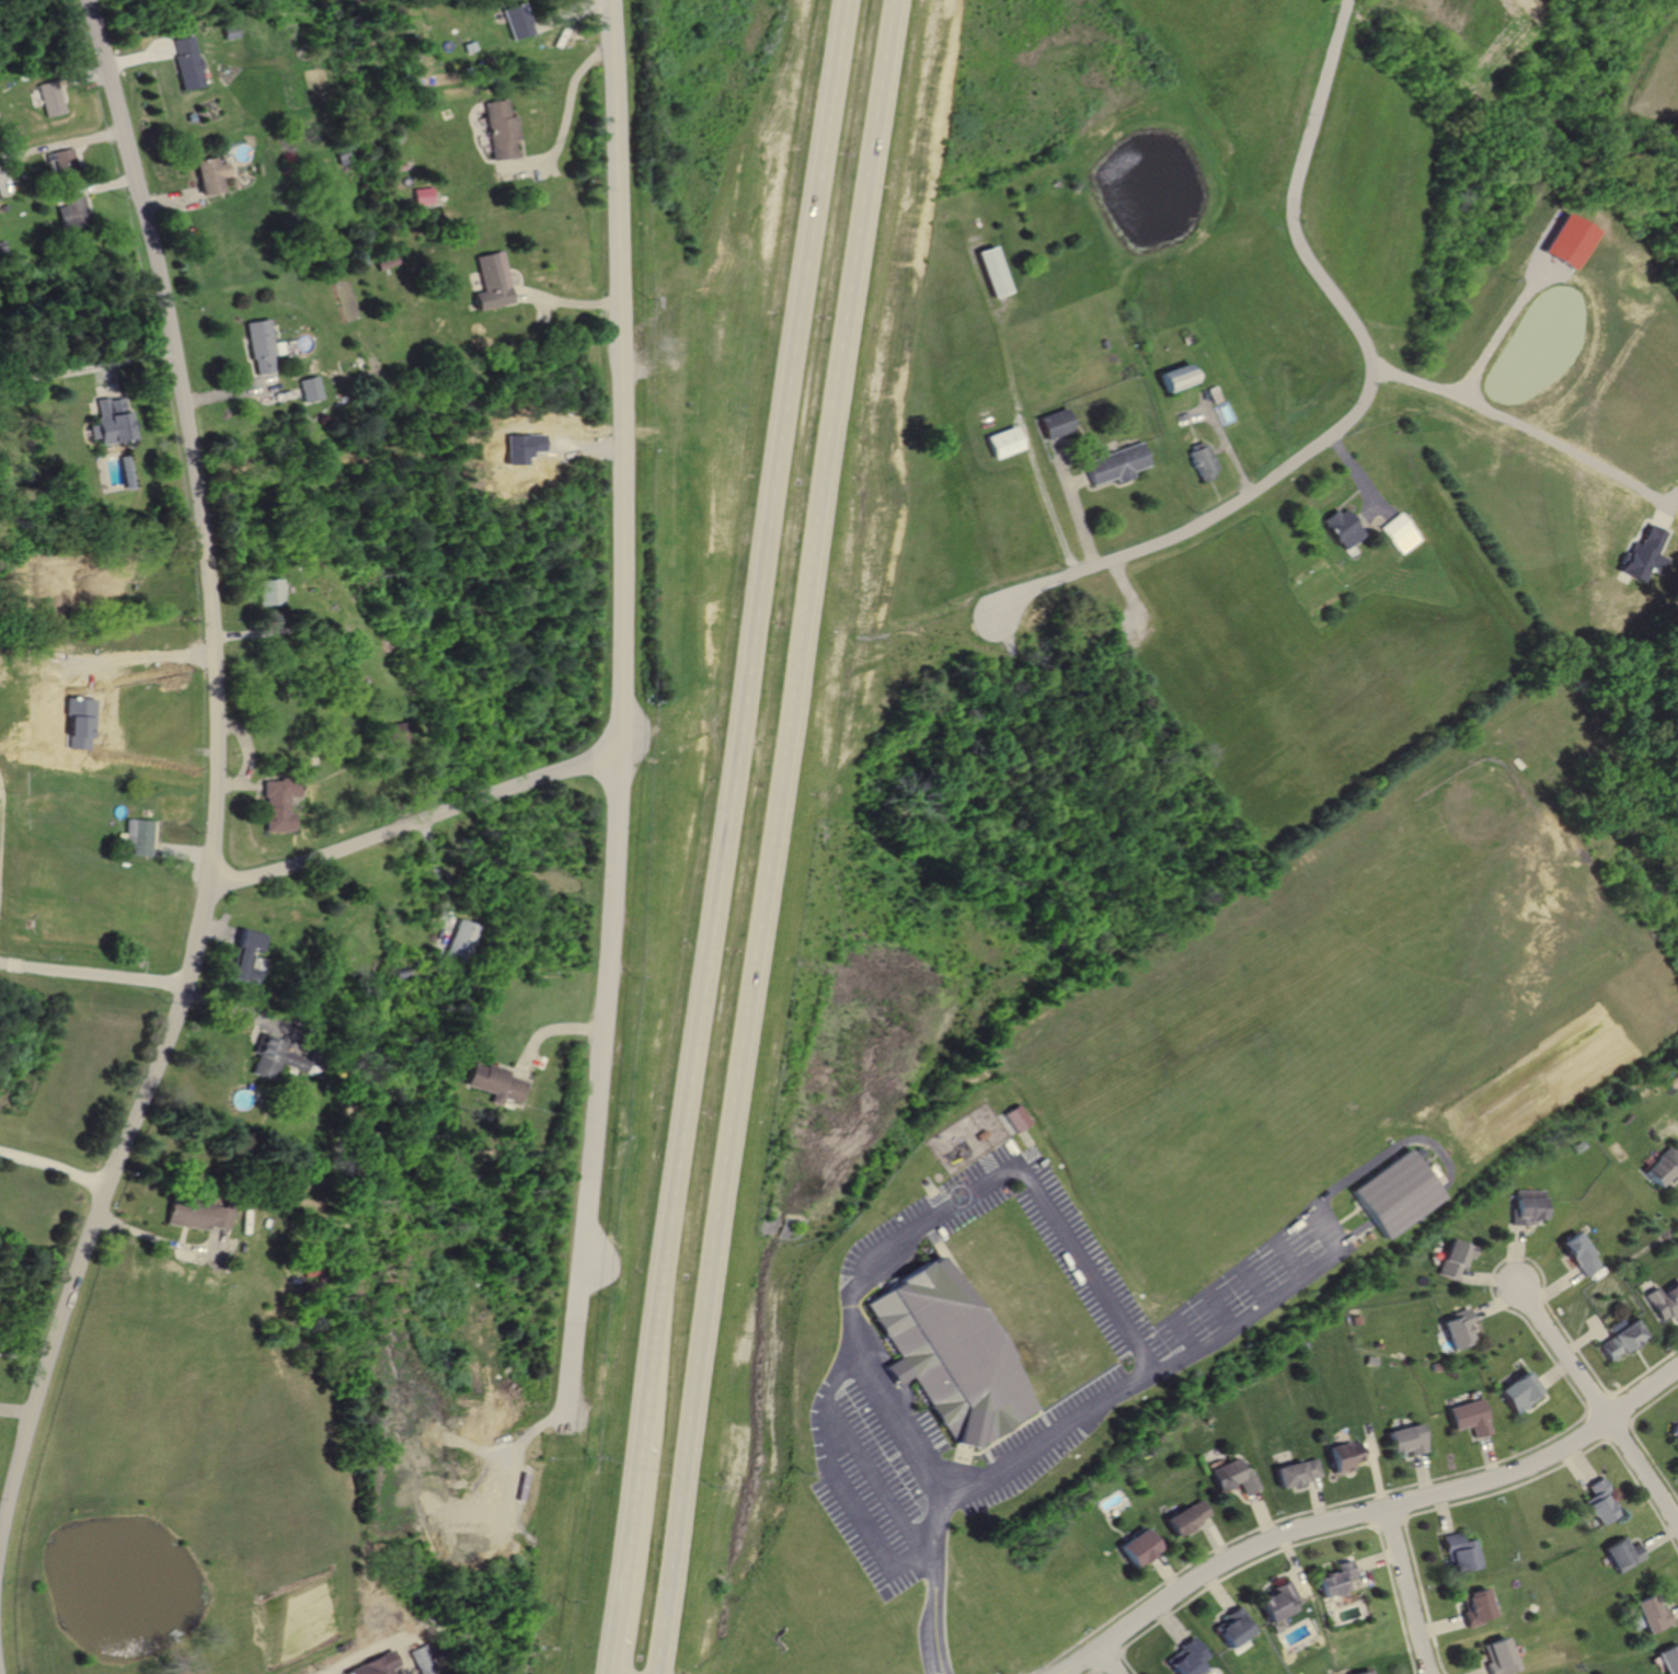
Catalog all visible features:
building: (515, 22)
building: (186, 64)
crop: (1652, 74)
building: (51, 101)
road: (568, 110)
building: (498, 131)
building: (65, 161)
building: (210, 176)
building: (424, 197)
building: (74, 213)
building: (1565, 239)
building: (992, 273)
building: (494, 280)
road: (1506, 325)
building: (261, 346)
road: (85, 364)
building: (1176, 378)
building: (310, 389)
building: (1212, 393)
road: (1366, 400)
road: (1196, 416)
building: (112, 418)
building: (1057, 423)
road: (1537, 432)
building: (1005, 440)
road: (1030, 442)
road: (1227, 444)
building: (1203, 460)
building: (1117, 463)
road: (1363, 478)
road: (1079, 480)
road: (1074, 501)
road: (1374, 516)
building: (1344, 529)
building: (1403, 534)
building: (1650, 554)
building: (100, 586)
building: (269, 592)
road: (148, 656)
road: (748, 711)
road: (619, 713)
road: (216, 782)
building: (278, 805)
road: (413, 824)
building: (141, 837)
road: (777, 837)
road: (438, 874)
park: (1468, 886)
building: (462, 940)
building: (244, 953)
road: (93, 972)
building: (266, 1058)
building: (495, 1083)
crop: (1541, 1085)
building: (1019, 1114)
road: (53, 1166)
building: (1665, 1167)
road: (1031, 1181)
building: (1398, 1192)
building: (1529, 1212)
building: (194, 1215)
road: (1345, 1218)
road: (150, 1237)
road: (1336, 1240)
building: (1583, 1252)
road: (1520, 1253)
building: (1456, 1258)
road: (1291, 1259)
road: (1490, 1277)
road: (1257, 1284)
road: (1559, 1285)
building: (1667, 1302)
road: (1501, 1305)
road: (1222, 1308)
building: (1459, 1329)
road: (1187, 1332)
road: (1591, 1335)
building: (1627, 1340)
road: (1566, 1349)
building: (951, 1357)
parking lot: (1143, 1371)
road: (1556, 1373)
building: (1521, 1390)
road: (1601, 1399)
building: (1470, 1417)
building: (1677, 1429)
building: (1677, 1432)
road: (1623, 1433)
road: (1641, 1433)
building: (1406, 1438)
road: (1368, 1449)
road: (1517, 1453)
building: (1346, 1454)
road: (1490, 1455)
road: (1583, 1463)
road: (1646, 1465)
road: (1375, 1466)
building: (1296, 1470)
road: (1424, 1472)
building: (1237, 1477)
road: (880, 1481)
road: (842, 1483)
road: (1492, 1491)
road: (1319, 1498)
building: (1599, 1503)
road: (1375, 1507)
road: (1263, 1514)
road: (1445, 1515)
building: (1186, 1517)
road: (1391, 1523)
road: (1215, 1537)
road: (1662, 1539)
road: (1298, 1541)
road: (940, 1543)
building: (1138, 1547)
road: (625, 1548)
building: (1460, 1552)
building: (1623, 1552)
road: (1376, 1559)
road: (1295, 1562)
road: (1165, 1571)
building: (1336, 1579)
road: (1217, 1589)
road: (1407, 1590)
building: (1278, 1600)
building: (1476, 1605)
road: (1675, 1612)
building: (1652, 1616)
road: (933, 1621)
road: (1171, 1623)
road: (1441, 1623)
building: (1233, 1627)
building: (1498, 1656)
building: (1188, 1658)
building: (1669, 1658)
road: (1110, 1661)
road: (1112, 1662)
building: (376, 1665)
road: (938, 1666)
road: (1070, 1667)
road: (1095, 1670)
building: (1364, 1671)
road: (1479, 1671)

